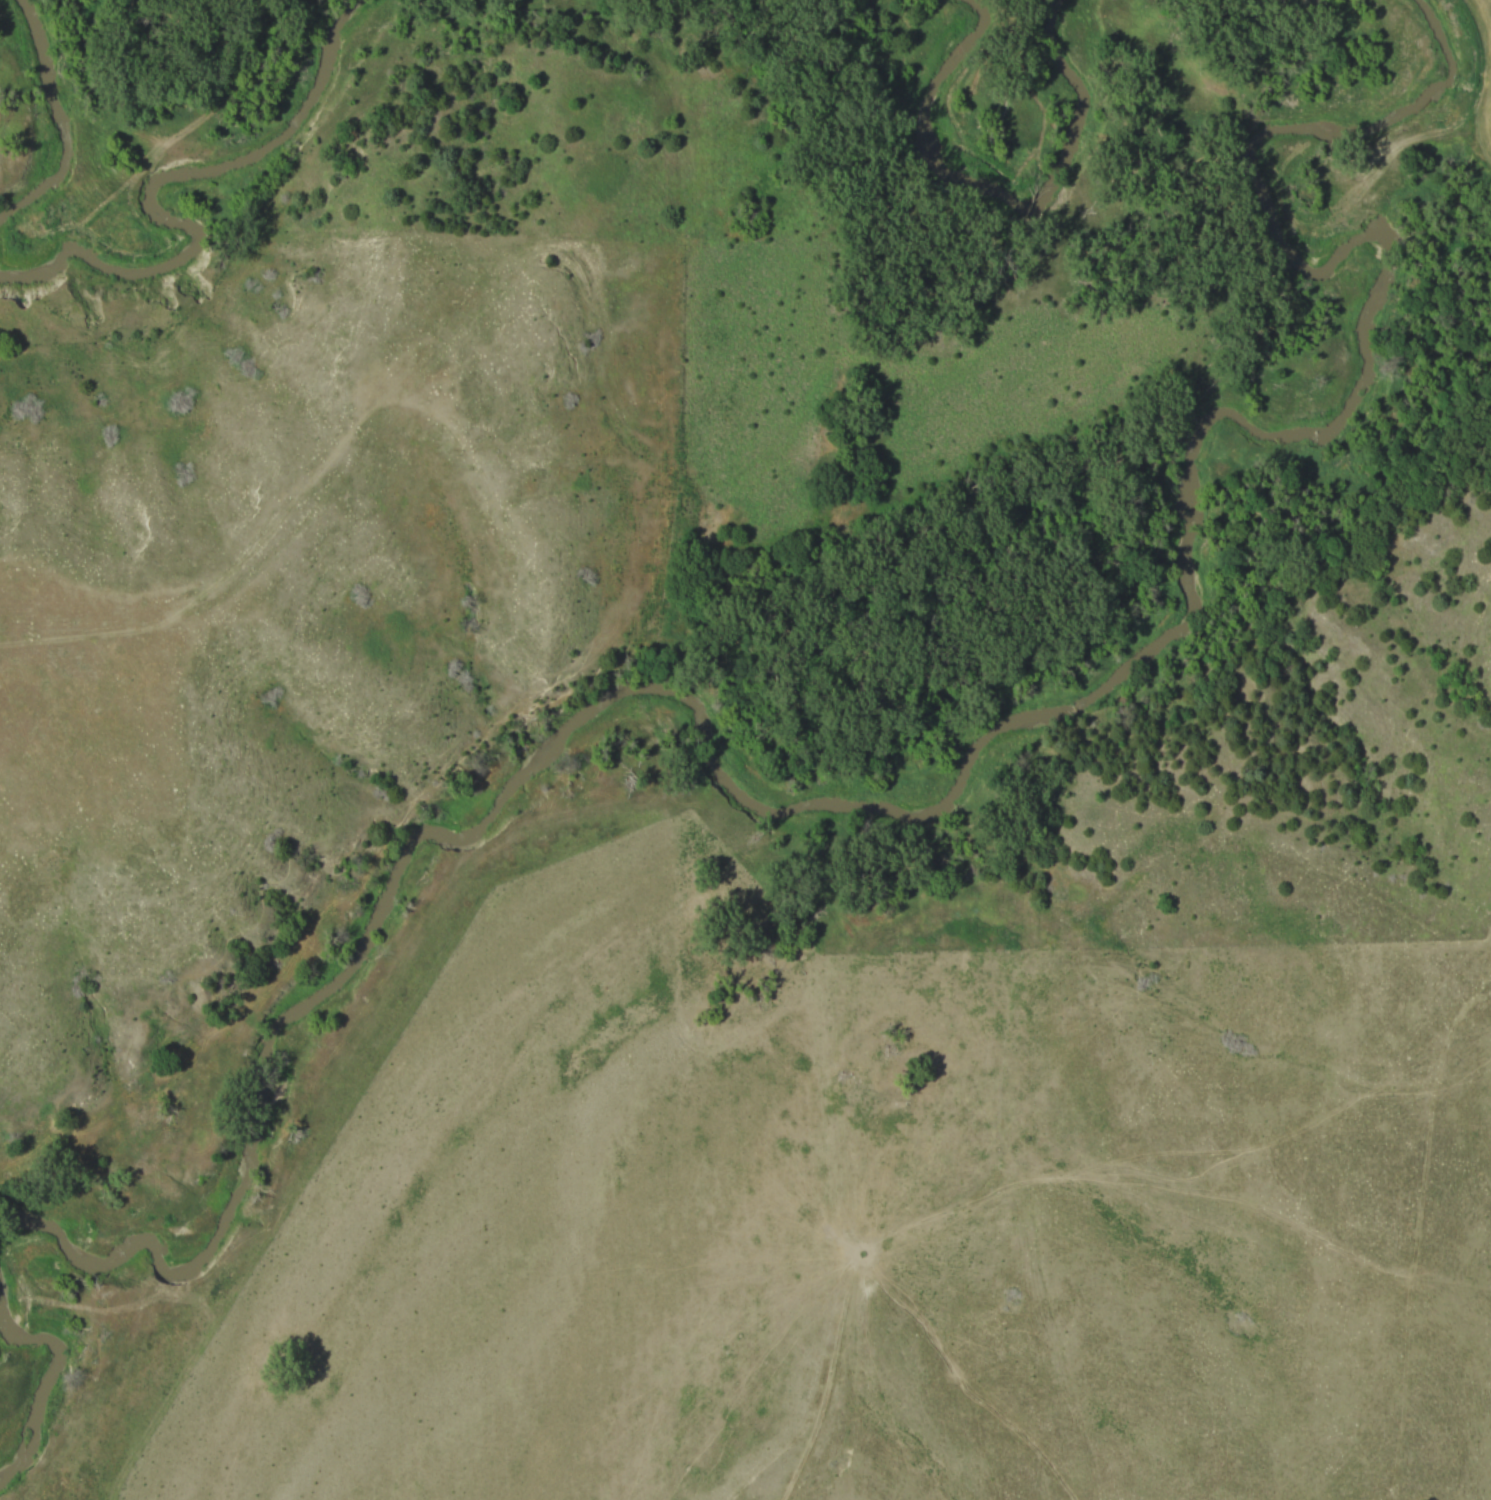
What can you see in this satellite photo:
crop: (1486, 10)
crop: (1488, 98)

